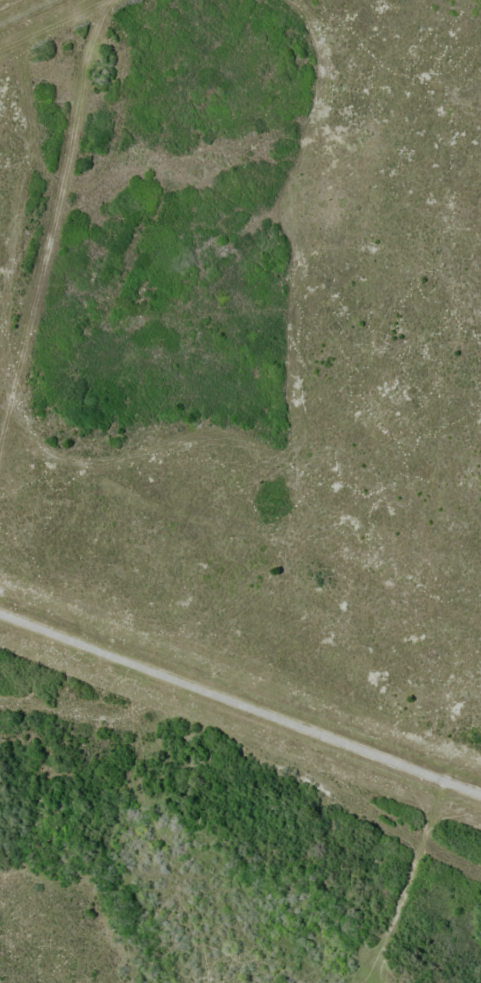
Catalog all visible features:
road: (240, 700)

